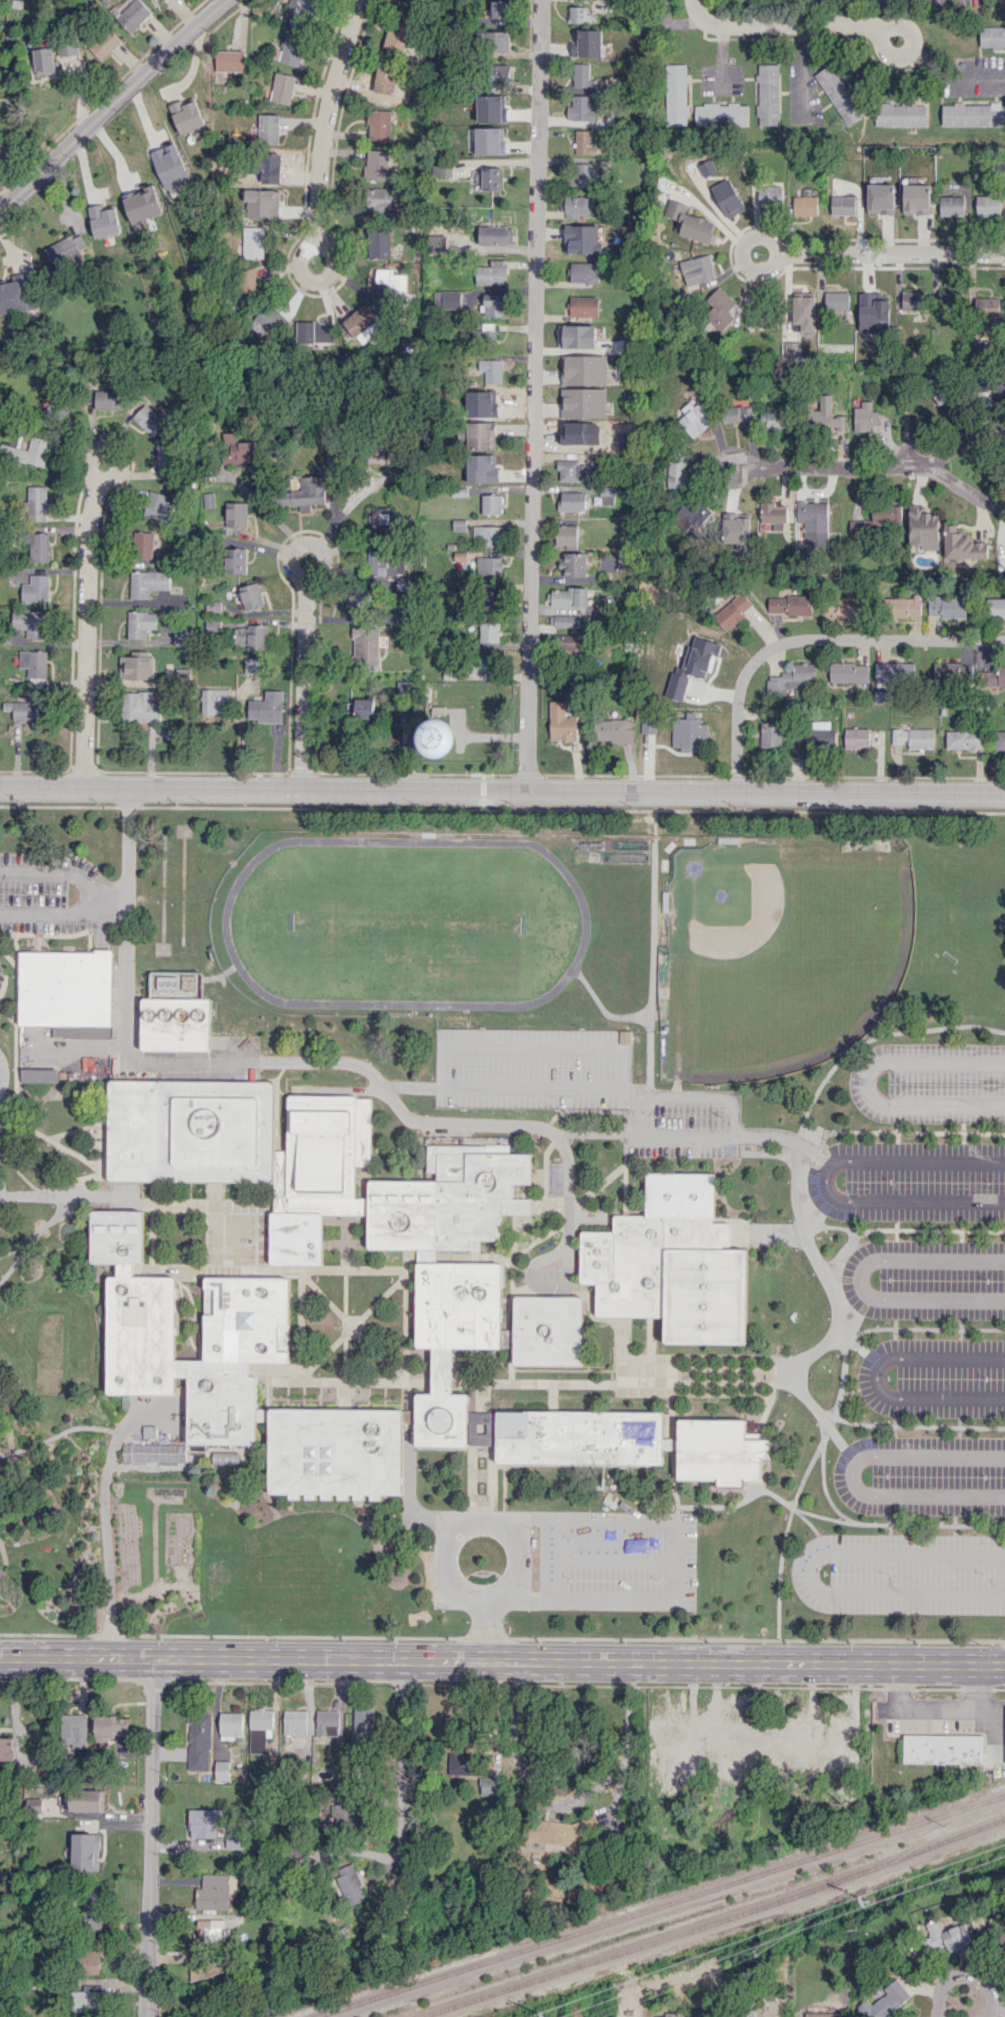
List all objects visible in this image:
building: (164, 0)
building: (290, 8)
building: (499, 9)
building: (132, 14)
building: (303, 14)
building: (578, 14)
road: (781, 24)
building: (396, 35)
building: (992, 36)
building: (496, 42)
building: (586, 42)
building: (104, 44)
building: (291, 49)
road: (908, 49)
road: (196, 55)
building: (44, 60)
building: (229, 60)
building: (500, 73)
building: (582, 75)
road: (948, 75)
building: (384, 77)
building: (281, 88)
building: (674, 94)
building: (767, 94)
building: (839, 94)
road: (110, 103)
building: (582, 108)
building: (720, 114)
building: (901, 114)
building: (973, 114)
building: (186, 115)
road: (325, 117)
building: (379, 124)
building: (267, 128)
building: (489, 141)
building: (583, 141)
building: (266, 162)
building: (377, 165)
building: (169, 166)
building: (706, 167)
building: (442, 170)
building: (584, 175)
building: (489, 178)
building: (769, 193)
building: (726, 197)
building: (880, 199)
building: (916, 199)
building: (379, 201)
building: (805, 202)
building: (261, 203)
building: (842, 205)
building: (952, 205)
building: (988, 205)
building: (578, 206)
building: (142, 208)
building: (103, 221)
building: (689, 223)
building: (495, 235)
building: (581, 239)
building: (252, 242)
building: (380, 243)
building: (66, 249)
road: (881, 256)
building: (696, 269)
building: (584, 272)
building: (492, 273)
road: (315, 280)
building: (249, 281)
building: (392, 283)
building: (13, 296)
building: (947, 298)
building: (455, 299)
building: (836, 300)
building: (913, 300)
building: (494, 305)
building: (583, 306)
building: (718, 308)
building: (987, 308)
building: (873, 312)
building: (803, 313)
building: (268, 320)
building: (362, 324)
building: (486, 331)
building: (314, 332)
building: (576, 336)
building: (980, 338)
building: (584, 369)
building: (938, 390)
road: (539, 394)
building: (471, 398)
building: (108, 399)
building: (583, 402)
building: (51, 406)
building: (736, 413)
building: (826, 416)
building: (865, 417)
building: (693, 418)
building: (150, 419)
building: (773, 420)
building: (480, 435)
road: (965, 441)
building: (237, 449)
building: (31, 451)
building: (380, 451)
building: (164, 461)
building: (488, 467)
road: (801, 468)
building: (570, 470)
building: (677, 474)
road: (967, 489)
building: (305, 493)
building: (607, 495)
building: (572, 501)
building: (37, 503)
building: (491, 504)
building: (158, 506)
road: (263, 507)
building: (772, 512)
building: (236, 514)
building: (687, 517)
building: (876, 519)
building: (378, 520)
building: (814, 522)
building: (734, 527)
building: (772, 527)
building: (923, 529)
building: (566, 534)
building: (489, 535)
road: (307, 542)
building: (962, 543)
building: (143, 544)
building: (39, 547)
building: (236, 560)
building: (625, 560)
building: (384, 563)
building: (574, 564)
building: (488, 566)
building: (148, 582)
building: (36, 589)
building: (251, 596)
building: (360, 597)
building: (569, 597)
building: (490, 599)
building: (789, 604)
building: (841, 605)
building: (900, 606)
building: (946, 606)
building: (995, 608)
building: (732, 611)
building: (564, 620)
building: (30, 622)
road: (91, 623)
building: (141, 623)
building: (489, 632)
building: (181, 636)
building: (250, 636)
road: (808, 640)
building: (572, 642)
building: (365, 645)
building: (34, 663)
building: (482, 663)
building: (137, 665)
building: (253, 665)
building: (692, 666)
building: (848, 672)
building: (895, 672)
building: (952, 672)
building: (182, 673)
building: (992, 677)
building: (791, 679)
road: (304, 680)
building: (881, 696)
building: (215, 701)
building: (139, 707)
building: (267, 707)
building: (26, 708)
building: (361, 708)
building: (561, 722)
building: (613, 730)
building: (688, 730)
building: (770, 734)
building: (816, 735)
building: (856, 737)
building: (914, 737)
building: (964, 738)
building: (999, 739)
road: (502, 788)
parking lot: (47, 892)
road: (90, 894)
road: (108, 895)
road: (125, 914)
park: (435, 923)
park: (777, 946)
parking lot: (0, 974)
building: (65, 987)
building: (176, 1013)
parking lot: (2, 1072)
building: (39, 1075)
road: (867, 1082)
road: (411, 1086)
road: (621, 1087)
road: (630, 1094)
road: (404, 1114)
building: (190, 1131)
road: (597, 1132)
road: (731, 1135)
road: (784, 1137)
building: (327, 1153)
road: (825, 1179)
building: (449, 1200)
building: (117, 1237)
building: (295, 1238)
building: (672, 1264)
road: (860, 1278)
building: (458, 1305)
building: (246, 1318)
building: (548, 1329)
building: (141, 1331)
building: (442, 1370)
road: (877, 1376)
building: (220, 1400)
building: (441, 1418)
building: (480, 1428)
building: (579, 1436)
building: (334, 1449)
building: (719, 1451)
building: (153, 1452)
road: (852, 1474)
road: (481, 1516)
road: (533, 1518)
road: (674, 1518)
road: (107, 1537)
parking lot: (613, 1560)
road: (616, 1560)
road: (812, 1571)
road: (532, 1601)
road: (484, 1632)
road: (242, 1659)
road: (744, 1662)
road: (978, 1686)
road: (928, 1708)
parking lot: (880, 1709)
road: (404, 1719)
building: (295, 1722)
building: (327, 1722)
building: (363, 1724)
parking lot: (934, 1724)
building: (231, 1725)
building: (111, 1727)
building: (260, 1728)
building: (74, 1730)
building: (765, 1737)
building: (799, 1737)
building: (839, 1737)
building: (728, 1738)
building: (199, 1741)
building: (671, 1742)
building: (6, 1748)
building: (943, 1748)
parking lot: (999, 1761)
building: (461, 1764)
building: (727, 1768)
building: (222, 1770)
building: (489, 1786)
road: (619, 1786)
road: (565, 1799)
building: (34, 1805)
building: (342, 1815)
road: (150, 1822)
building: (204, 1823)
building: (555, 1832)
building: (85, 1851)
building: (350, 1885)
building: (212, 1892)
railway: (658, 1905)
building: (92, 1909)
railway: (715, 1922)
building: (211, 1930)
building: (947, 1935)
building: (90, 1960)
road: (965, 1972)
building: (86, 1998)
building: (884, 2001)
road: (147, 2002)
building: (746, 2012)

